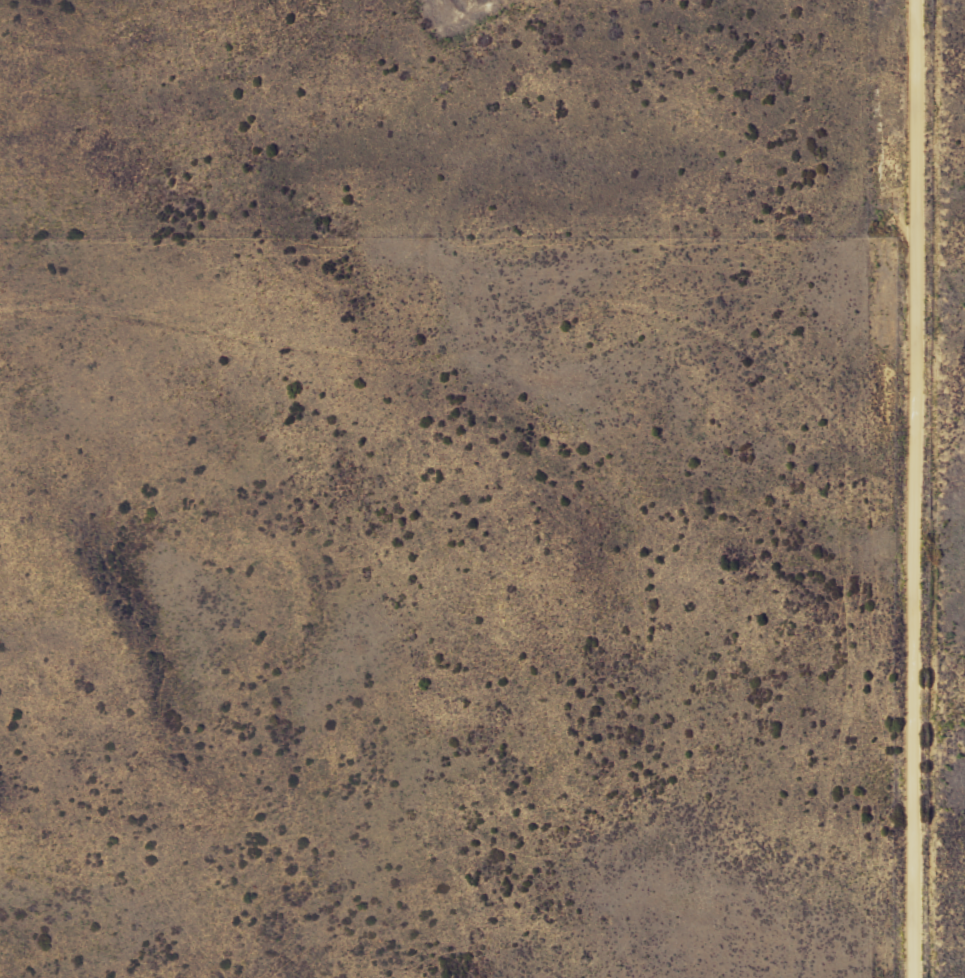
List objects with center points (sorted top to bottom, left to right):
road: (916, 488)

